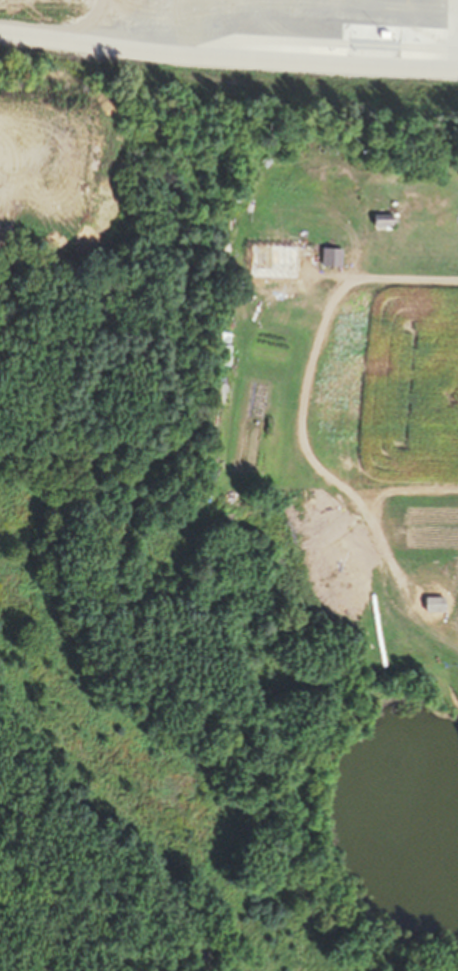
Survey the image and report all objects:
road: (377, 191)
building: (325, 209)
building: (435, 218)
building: (379, 222)
building: (303, 256)
building: (222, 356)
crop: (394, 436)
quarry: (144, 478)

